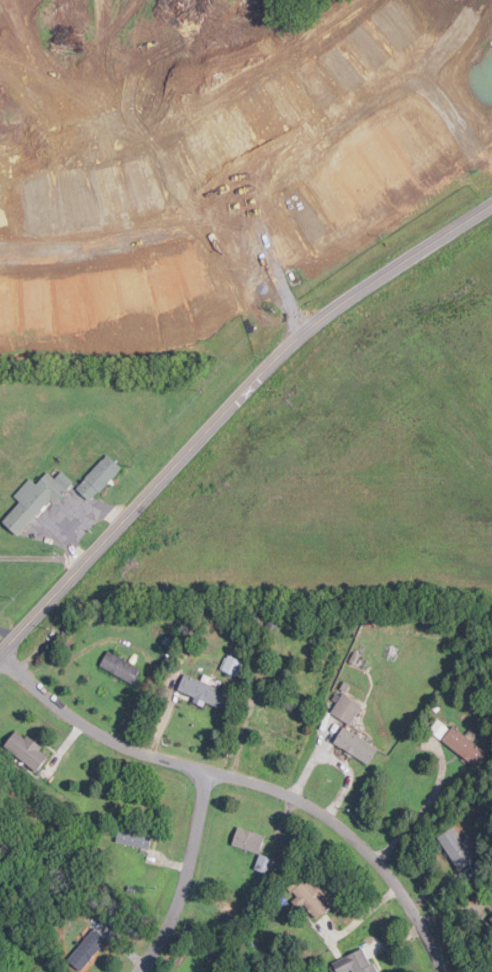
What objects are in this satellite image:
road: (399, 44)
building: (225, 121)
road: (455, 126)
road: (225, 203)
road: (248, 279)
road: (227, 407)
building: (98, 477)
building: (35, 499)
road: (7, 633)
building: (231, 664)
building: (120, 667)
building: (202, 691)
building: (345, 708)
building: (355, 745)
building: (464, 746)
building: (26, 750)
road: (248, 781)
building: (133, 837)
building: (248, 839)
building: (455, 847)
road: (184, 875)
building: (309, 899)
building: (491, 918)
building: (86, 948)
building: (353, 962)

